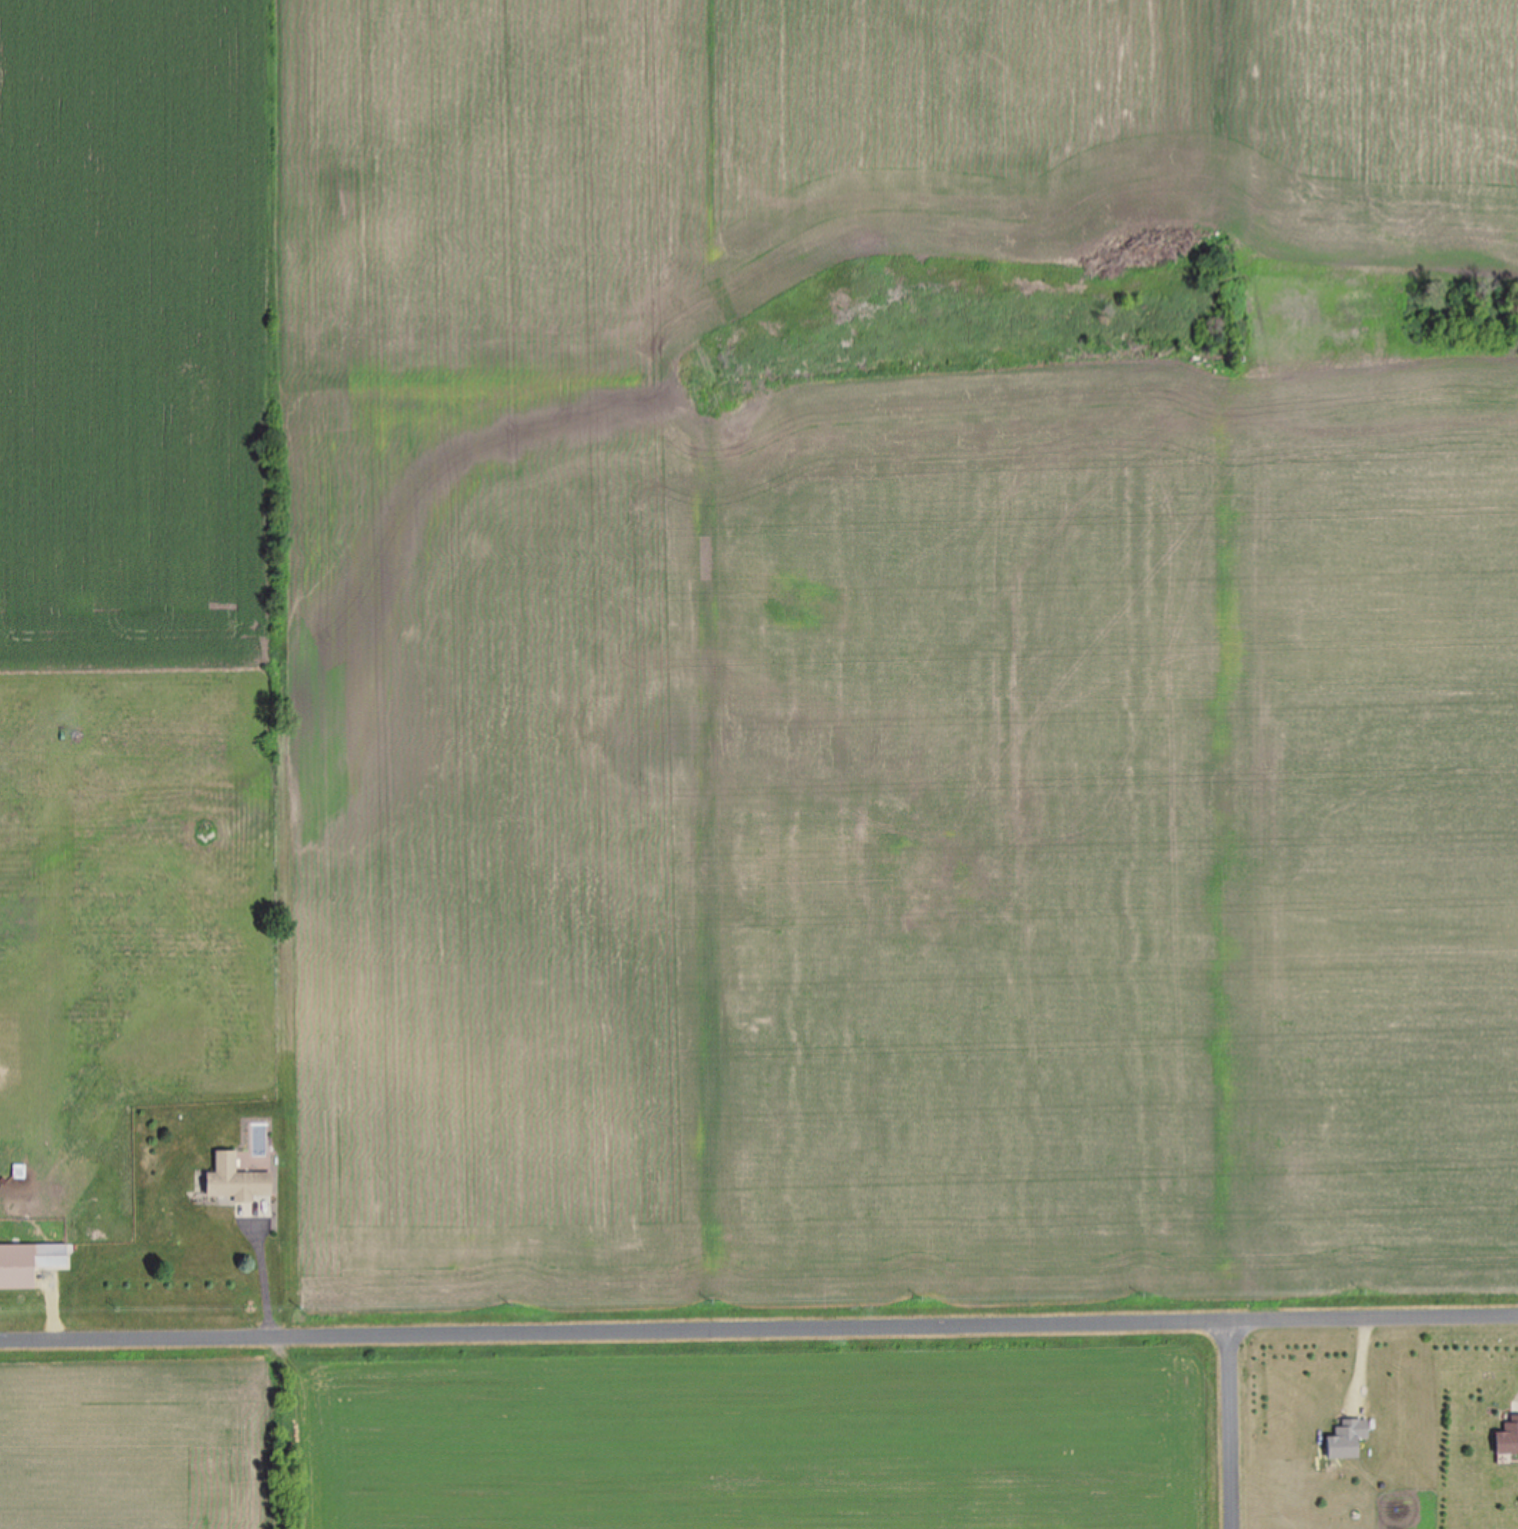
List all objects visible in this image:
crop: (821, 619)
building: (239, 1179)
building: (29, 1262)
road: (758, 1318)
road: (1228, 1420)
crop: (617, 1430)
building: (1507, 1437)
building: (1345, 1438)

